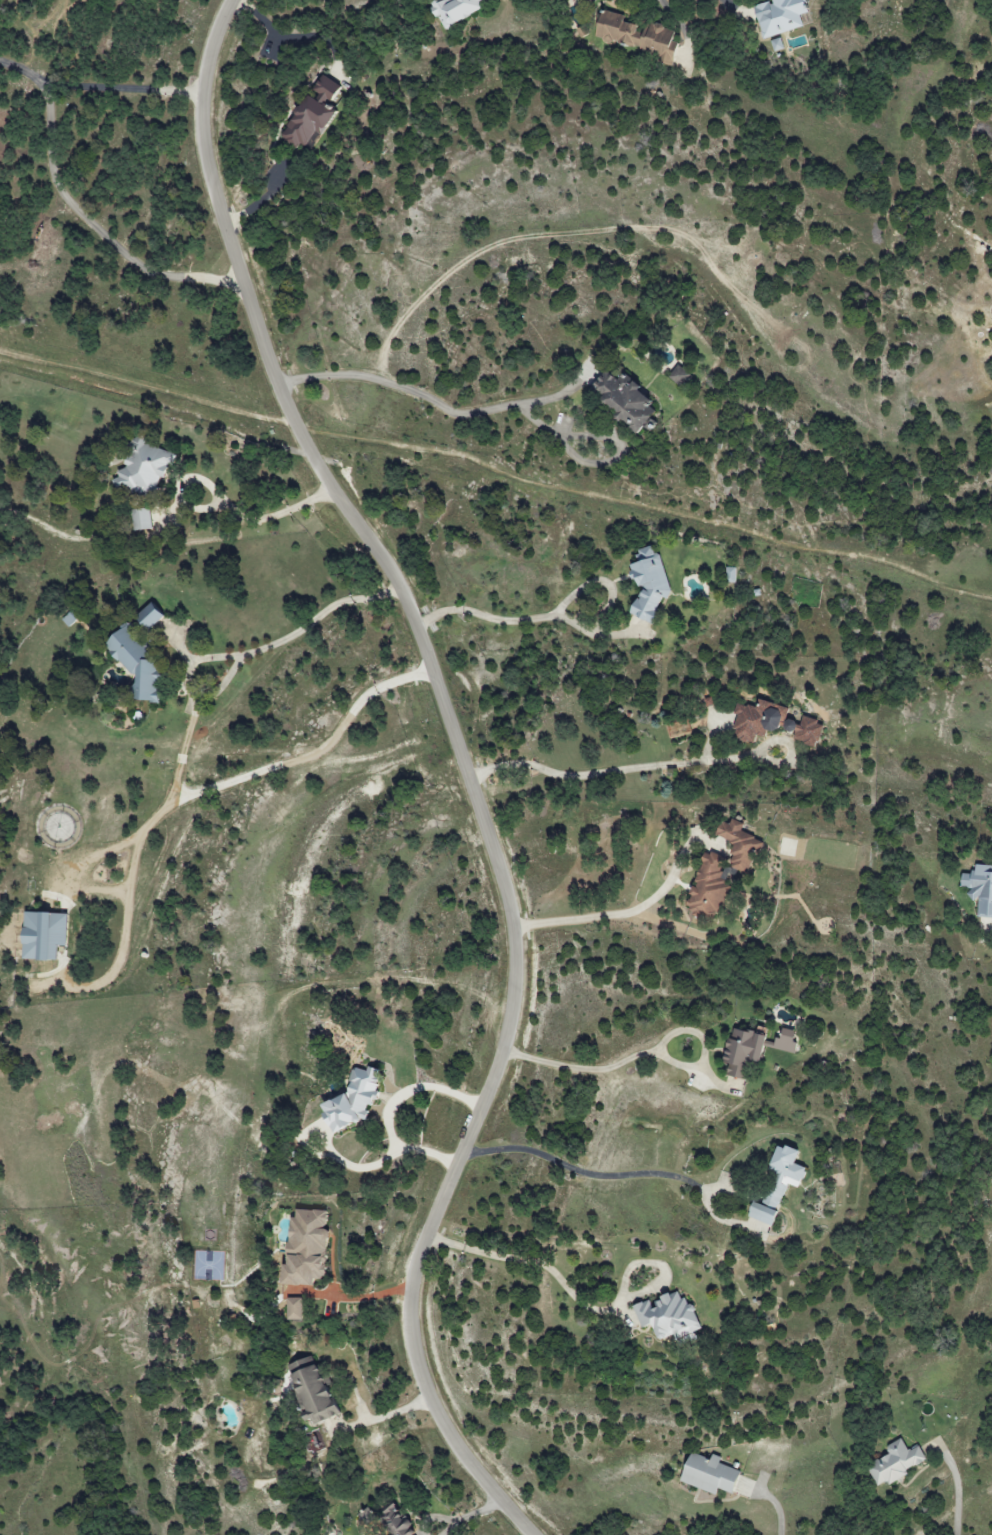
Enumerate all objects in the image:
road: (664, 4)
road: (735, 6)
building: (455, 10)
building: (779, 16)
building: (636, 35)
road: (98, 89)
building: (312, 114)
road: (262, 200)
road: (96, 227)
building: (682, 374)
building: (622, 399)
road: (434, 400)
road: (597, 463)
building: (143, 466)
road: (497, 473)
road: (223, 503)
building: (141, 518)
building: (730, 574)
building: (648, 583)
building: (148, 616)
road: (524, 620)
building: (136, 664)
road: (197, 702)
building: (772, 722)
road: (316, 749)
road: (465, 767)
road: (656, 767)
building: (738, 844)
building: (708, 888)
building: (980, 888)
road: (619, 916)
building: (43, 934)
building: (785, 1041)
building: (741, 1051)
road: (601, 1069)
building: (352, 1099)
road: (390, 1109)
road: (586, 1174)
building: (781, 1177)
building: (761, 1214)
building: (305, 1247)
road: (547, 1270)
building: (294, 1309)
building: (667, 1316)
building: (311, 1389)
road: (385, 1415)
building: (895, 1463)
building: (708, 1474)
road: (958, 1492)
building: (395, 1522)

